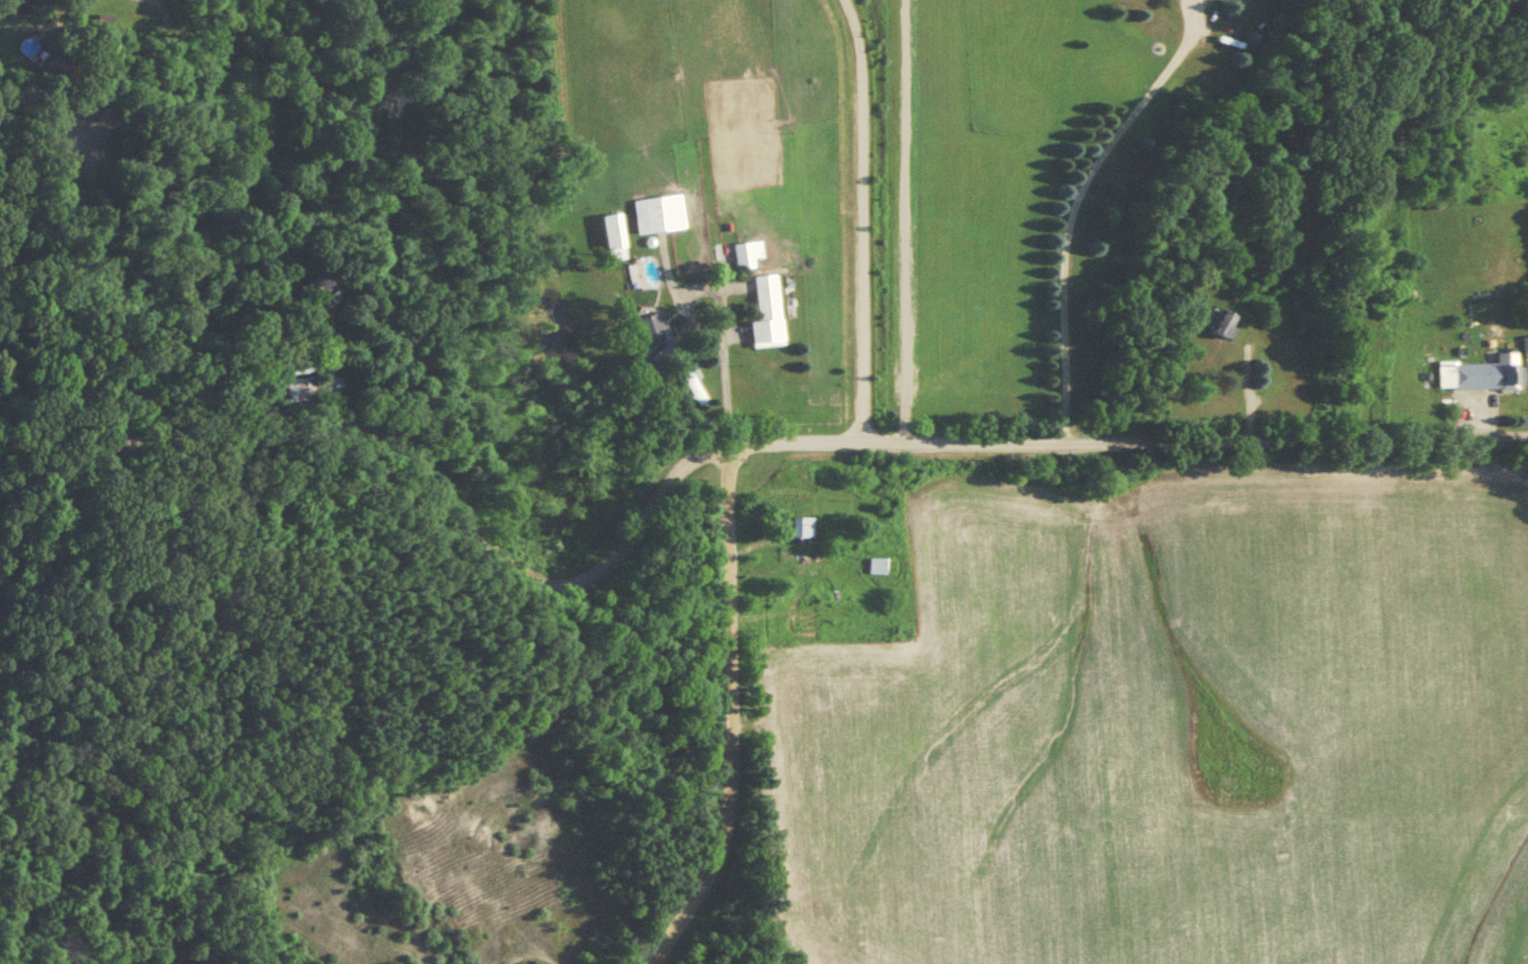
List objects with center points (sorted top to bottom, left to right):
building: (57, 71)
road: (1072, 204)
building: (658, 214)
road: (861, 219)
building: (1476, 219)
building: (613, 237)
building: (747, 254)
road: (106, 286)
building: (313, 293)
building: (767, 313)
building: (1219, 323)
building: (650, 329)
building: (1525, 346)
road: (722, 367)
building: (1480, 374)
road: (328, 387)
building: (296, 389)
road: (1249, 390)
road: (700, 454)
road: (727, 510)
building: (801, 528)
building: (876, 566)
road: (376, 621)
road: (729, 780)

